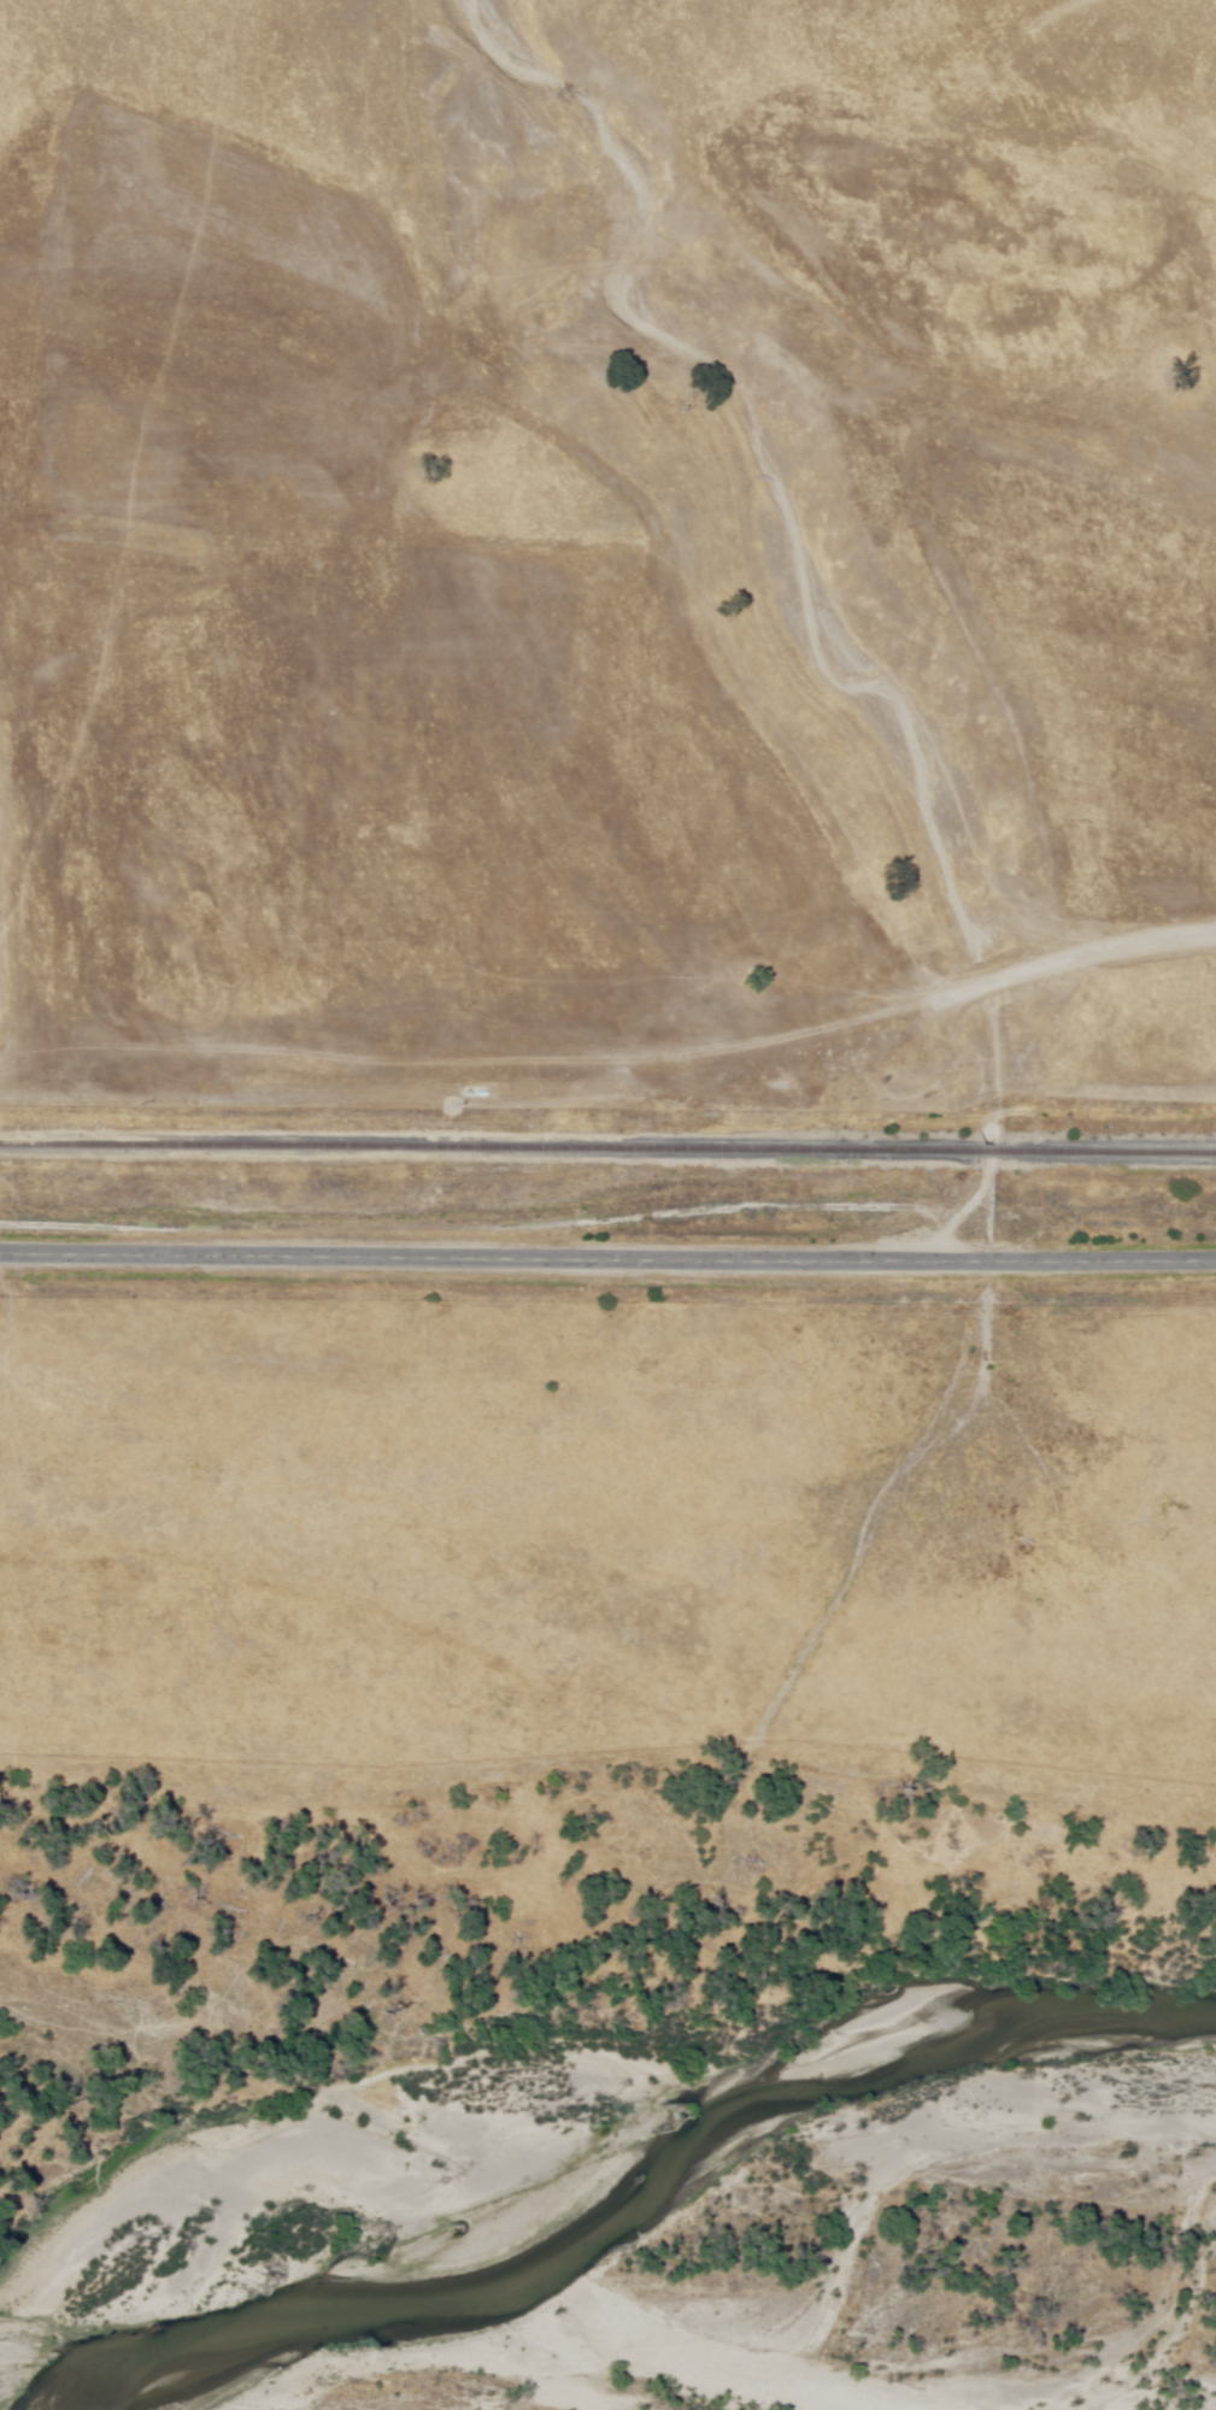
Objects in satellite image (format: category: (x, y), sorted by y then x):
road: (645, 378)
road: (515, 593)
quarry: (384, 812)
road: (915, 1006)
road: (306, 1062)
road: (1088, 1097)
railway: (607, 1151)
road: (962, 1210)
road: (607, 1258)
park: (577, 1650)
river: (764, 2122)
river: (283, 2175)
river: (125, 2308)

